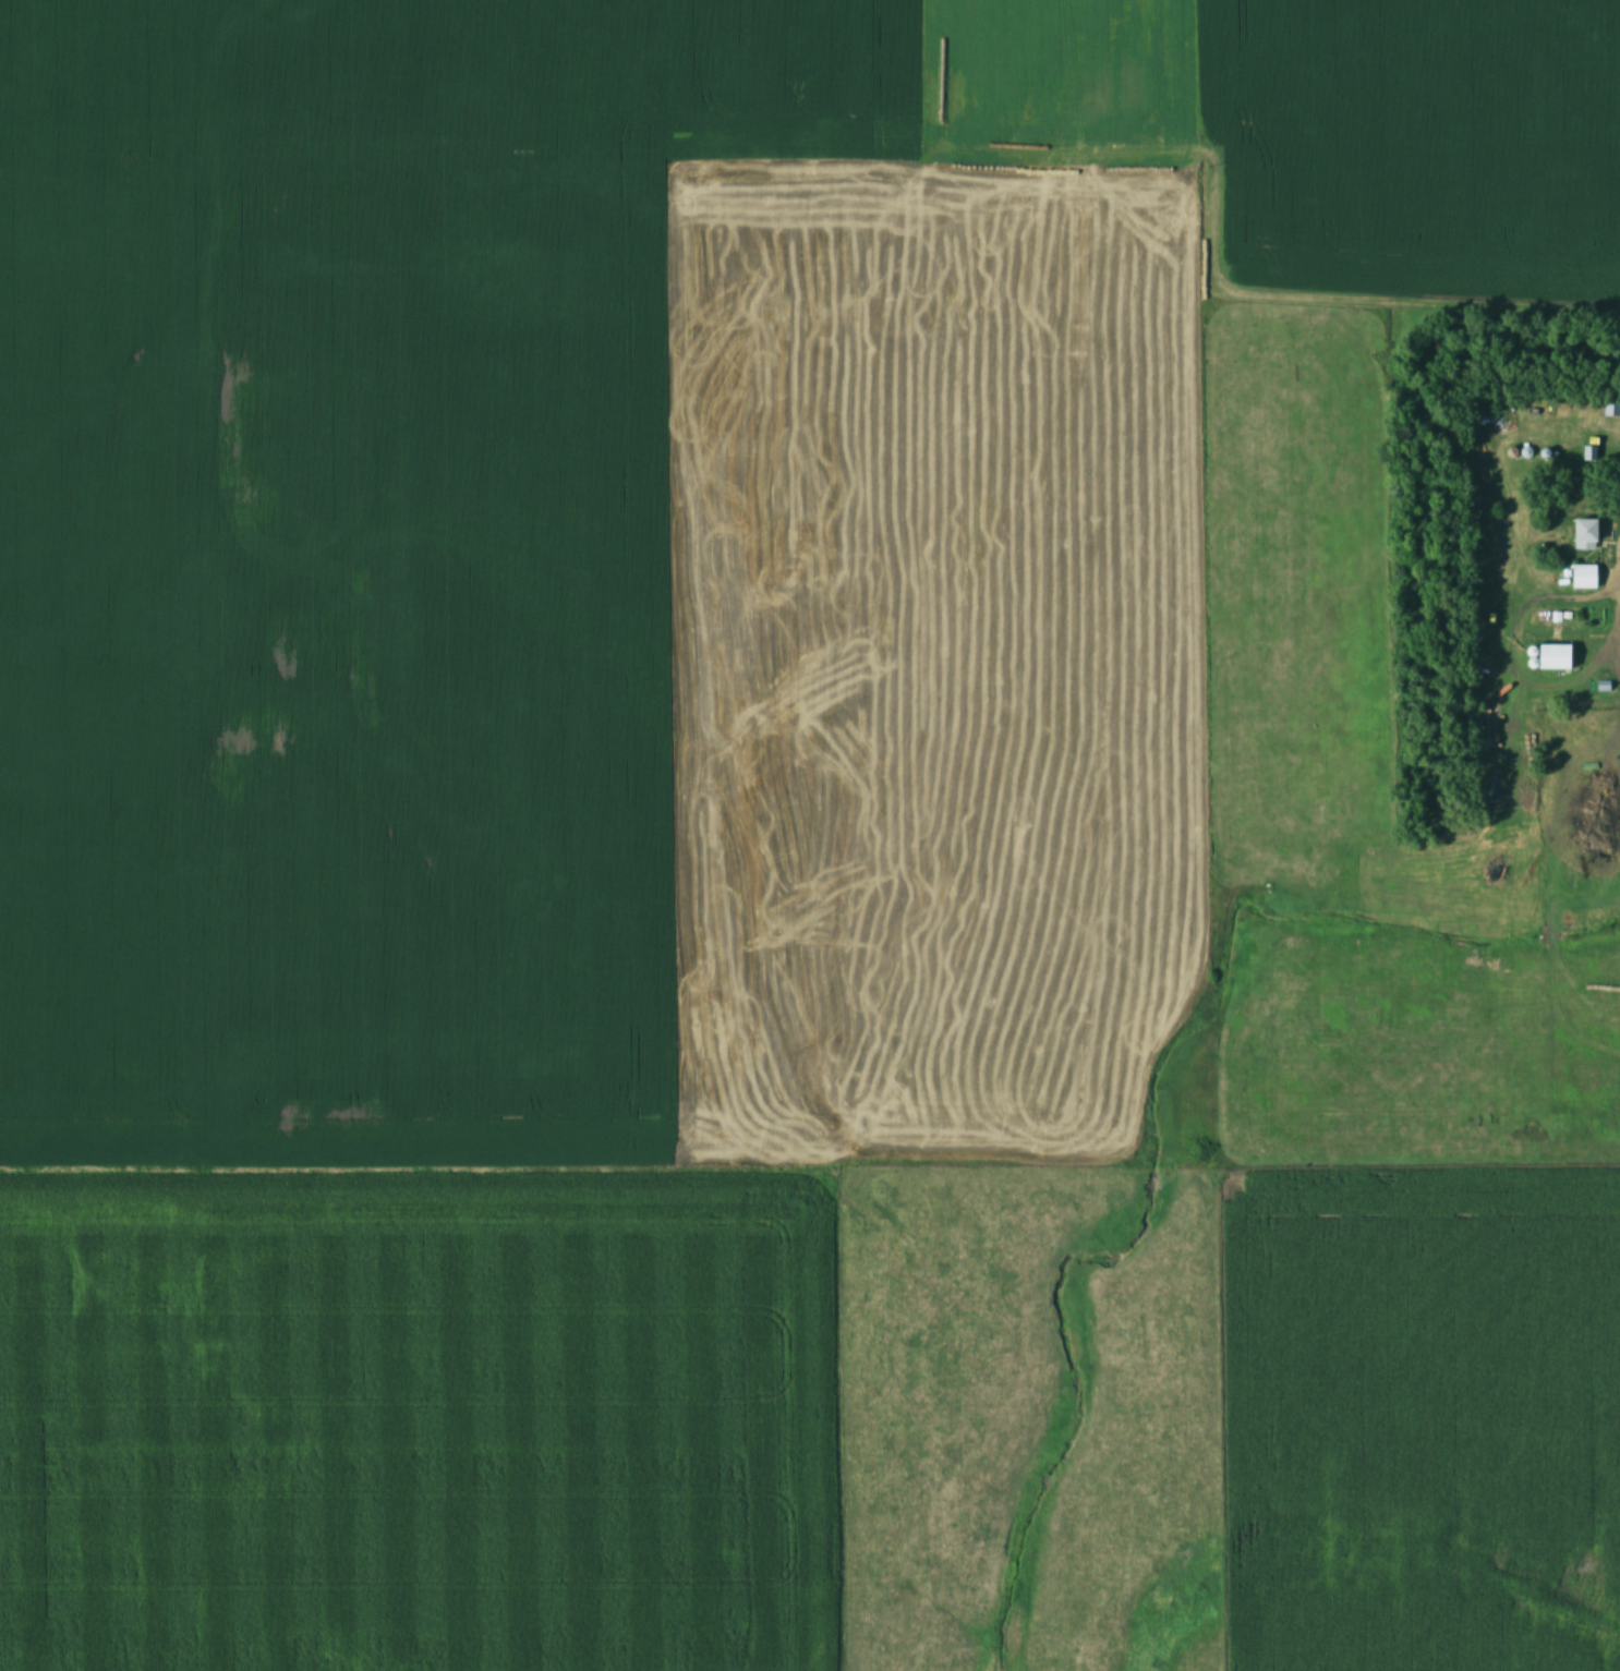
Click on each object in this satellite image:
building: (1613, 408)
building: (1585, 534)
building: (1584, 577)
building: (1553, 656)

